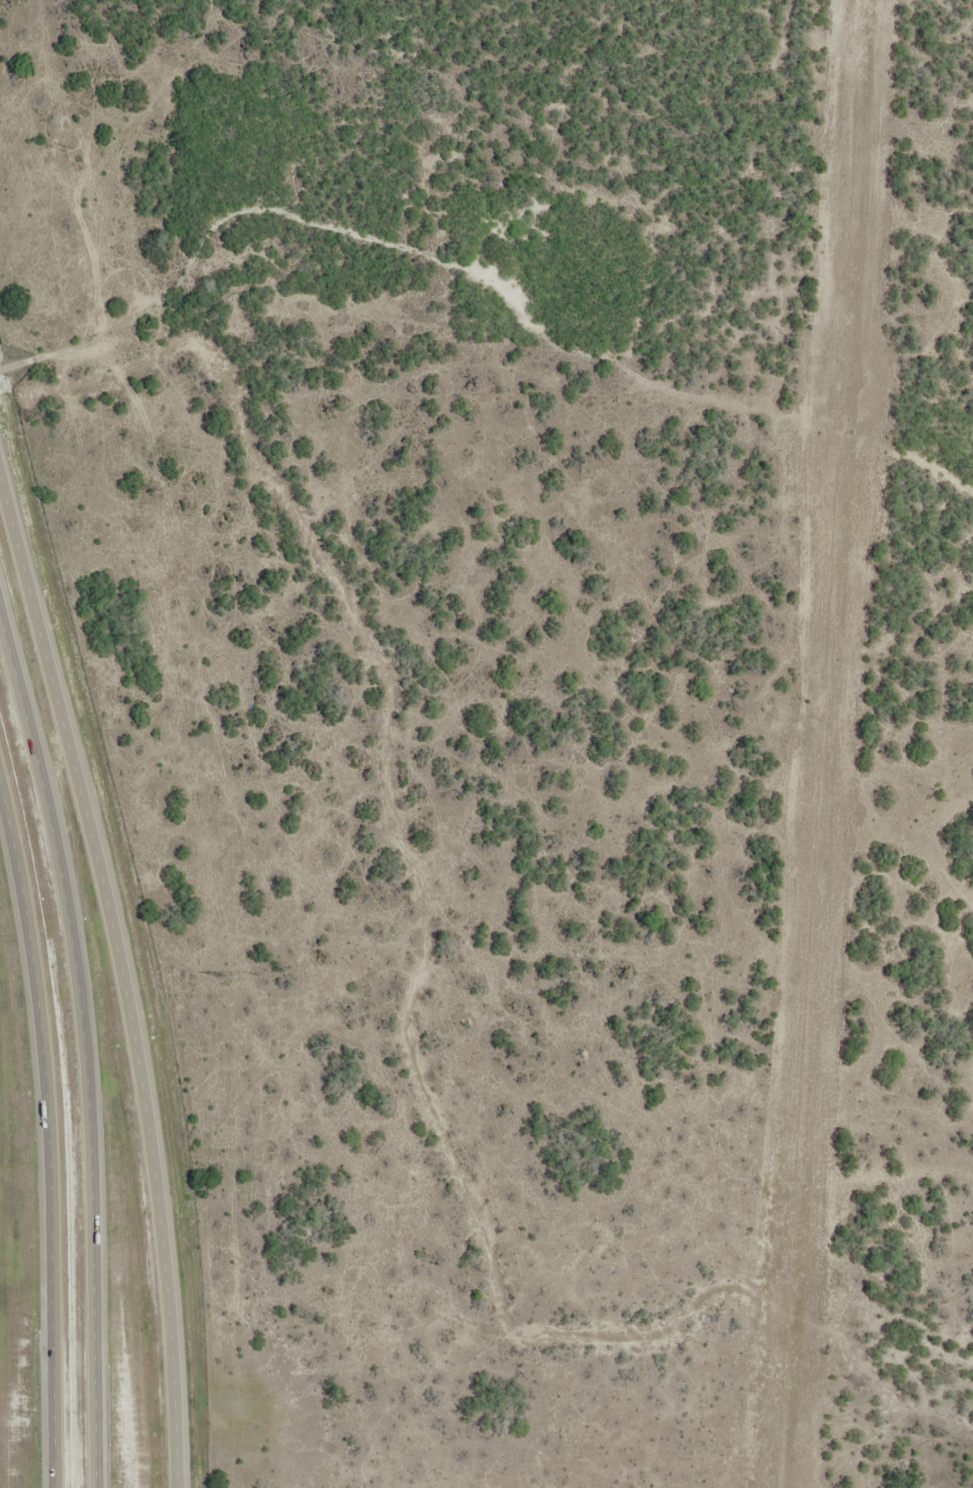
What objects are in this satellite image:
power tower: (69, 150)
power tower: (156, 490)
road: (123, 974)
power tower: (224, 977)
road: (85, 1047)
road: (49, 1135)

